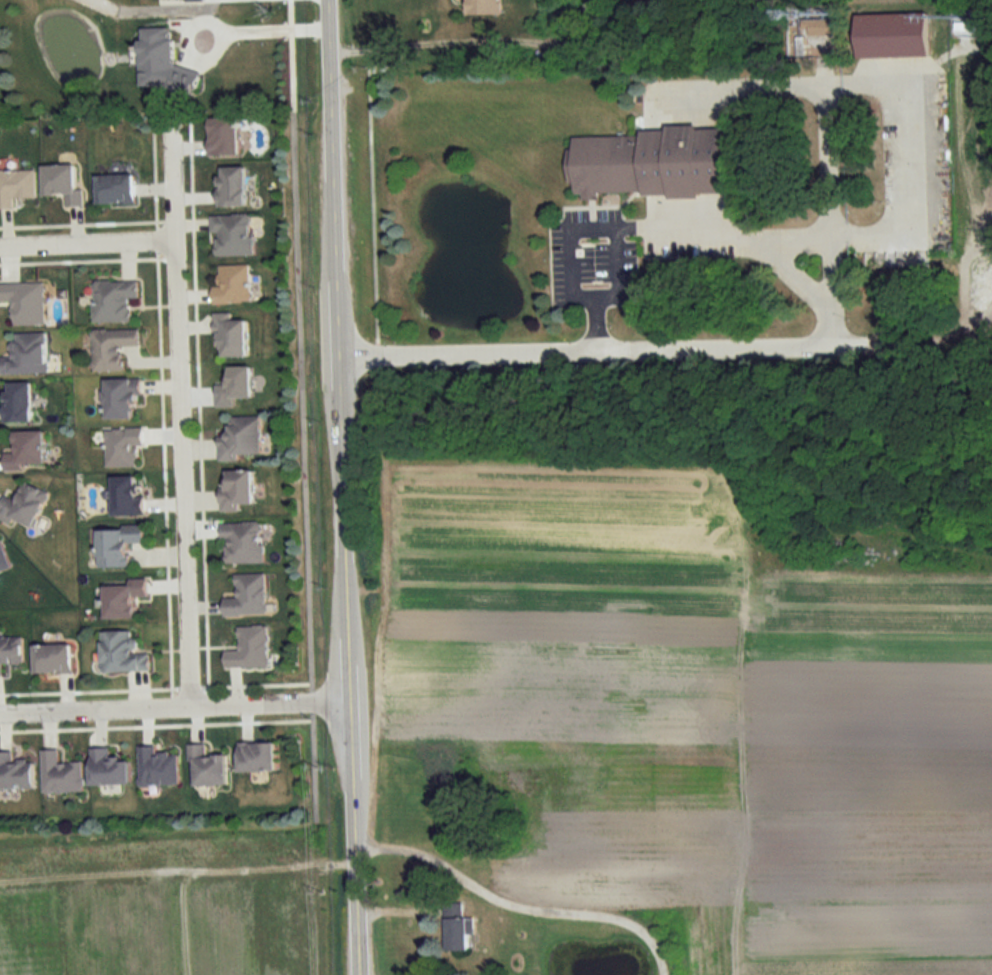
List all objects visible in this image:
building: (482, 7)
road: (272, 30)
building: (813, 32)
building: (892, 35)
road: (387, 50)
building: (224, 136)
road: (899, 155)
building: (650, 163)
building: (62, 184)
building: (16, 186)
building: (232, 186)
building: (116, 189)
road: (629, 227)
building: (232, 235)
road: (87, 242)
road: (795, 268)
road: (614, 272)
building: (232, 284)
building: (113, 300)
building: (25, 302)
building: (230, 336)
road: (785, 344)
building: (111, 348)
road: (335, 352)
building: (26, 355)
building: (122, 399)
building: (17, 402)
road: (180, 416)
building: (242, 437)
building: (124, 448)
building: (25, 450)
building: (236, 489)
building: (127, 496)
building: (23, 506)
building: (242, 542)
building: (118, 545)
building: (3, 559)
building: (247, 596)
building: (124, 599)
building: (249, 649)
building: (10, 652)
building: (122, 653)
building: (52, 659)
road: (173, 710)
crop: (697, 713)
building: (256, 758)
building: (208, 767)
building: (157, 768)
building: (108, 769)
building: (15, 774)
building: (60, 774)
road: (350, 840)
crop: (160, 908)
building: (456, 929)

